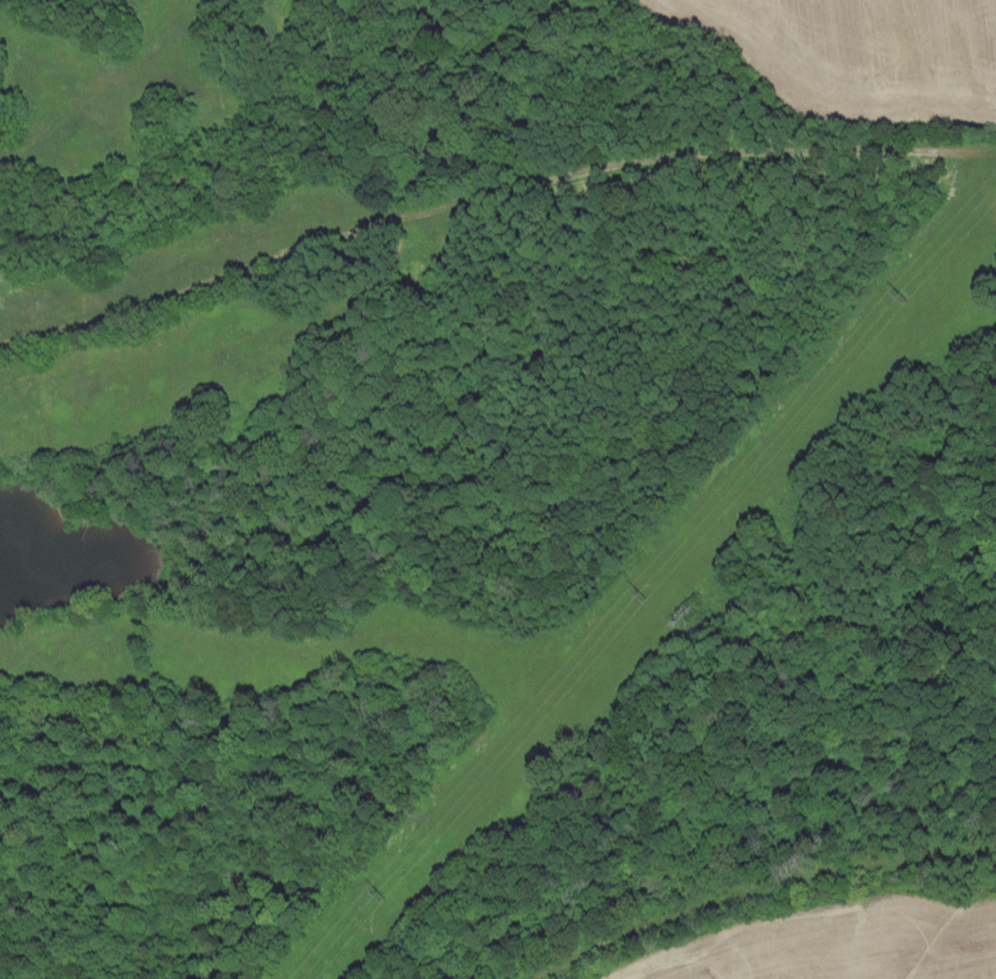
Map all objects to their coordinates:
road: (487, 189)
power tower: (902, 295)
power tower: (644, 591)
road: (38, 662)
road: (745, 869)
power tower: (386, 890)

